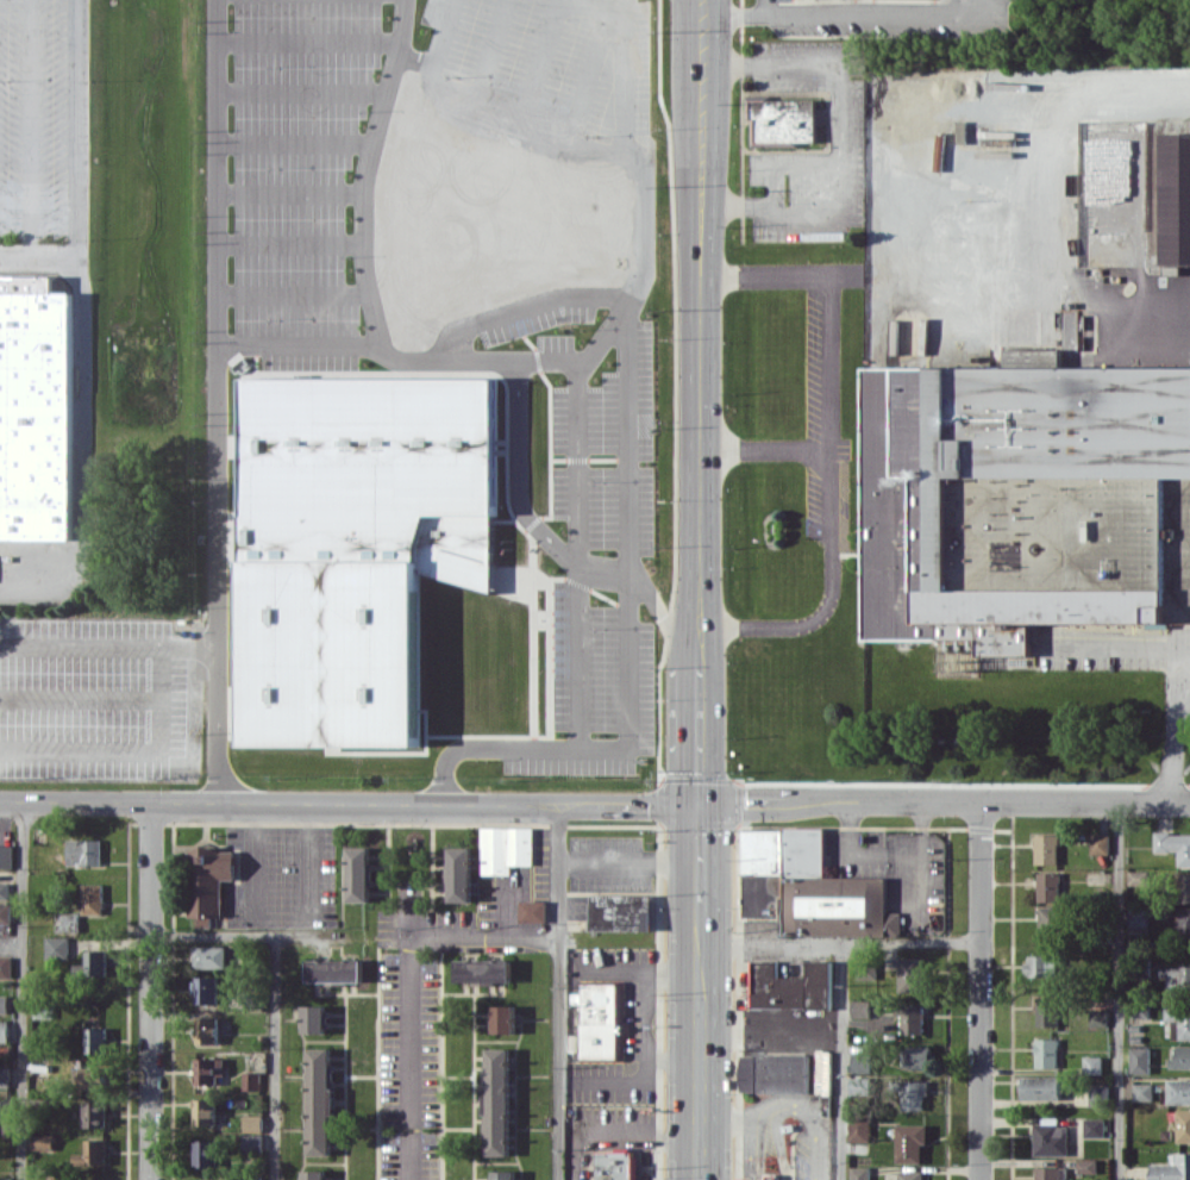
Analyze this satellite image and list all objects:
road: (738, 7)
road: (864, 7)
road: (693, 18)
road: (702, 18)
road: (400, 30)
road: (624, 46)
road: (489, 57)
road: (538, 64)
road: (585, 76)
road: (1065, 102)
building: (781, 120)
road: (29, 129)
road: (76, 129)
road: (837, 131)
building: (1176, 198)
road: (359, 257)
road: (37, 258)
road: (826, 305)
road: (525, 307)
road: (215, 314)
building: (1070, 321)
road: (702, 332)
road: (296, 344)
road: (547, 358)
road: (627, 386)
building: (36, 411)
road: (572, 420)
road: (82, 452)
road: (515, 480)
building: (1020, 497)
road: (826, 532)
building: (355, 545)
road: (645, 595)
road: (701, 644)
road: (106, 647)
road: (1117, 649)
road: (572, 656)
road: (213, 717)
road: (1169, 728)
road: (700, 732)
road: (125, 753)
road: (440, 779)
road: (945, 804)
road: (349, 805)
traffic signals: (700, 805)
road: (700, 835)
building: (1100, 843)
building: (1175, 845)
building: (506, 848)
building: (1046, 848)
building: (83, 851)
road: (887, 854)
building: (6, 855)
road: (258, 863)
road: (309, 863)
road: (630, 863)
building: (358, 874)
building: (461, 874)
building: (1138, 876)
building: (209, 881)
building: (1048, 886)
building: (809, 887)
building: (1183, 887)
building: (4, 889)
building: (92, 898)
building: (533, 911)
building: (621, 911)
building: (5, 913)
building: (1138, 917)
building: (68, 922)
building: (1052, 922)
building: (1179, 922)
road: (700, 925)
road: (243, 936)
road: (486, 938)
road: (840, 941)
building: (57, 948)
building: (211, 956)
building: (96, 962)
building: (5, 966)
building: (1041, 966)
building: (336, 970)
building: (483, 970)
building: (910, 974)
building: (1176, 978)
building: (791, 986)
building: (206, 989)
road: (23, 991)
road: (151, 991)
road: (981, 992)
road: (1120, 992)
road: (558, 993)
building: (4, 1003)
building: (860, 1009)
building: (43, 1010)
building: (1048, 1011)
building: (1100, 1017)
building: (315, 1018)
building: (505, 1018)
building: (912, 1018)
building: (601, 1020)
building: (1178, 1020)
building: (207, 1030)
building: (4, 1031)
road: (411, 1038)
building: (96, 1039)
building: (1046, 1053)
building: (917, 1056)
road: (274, 1057)
building: (1180, 1057)
road: (843, 1060)
building: (1140, 1060)
building: (863, 1062)
building: (1092, 1063)
building: (208, 1069)
building: (775, 1073)
building: (5, 1076)
building: (93, 1076)
building: (251, 1080)
road: (700, 1082)
building: (860, 1085)
building: (1041, 1087)
building: (1144, 1091)
building: (1179, 1091)
building: (914, 1094)
building: (1100, 1094)
building: (321, 1099)
building: (497, 1101)
building: (6, 1109)
building: (205, 1111)
building: (95, 1113)
building: (253, 1123)
building: (1184, 1125)
building: (1095, 1126)
building: (860, 1129)
building: (1051, 1137)
road: (620, 1138)
building: (43, 1142)
building: (910, 1142)
building: (252, 1143)
building: (93, 1153)
building: (206, 1153)
building: (616, 1165)
building: (1088, 1165)
building: (1172, 1169)
building: (860, 1173)
building: (314, 1174)
building: (505, 1174)
building: (912, 1174)
building: (6, 1178)
building: (255, 1179)

